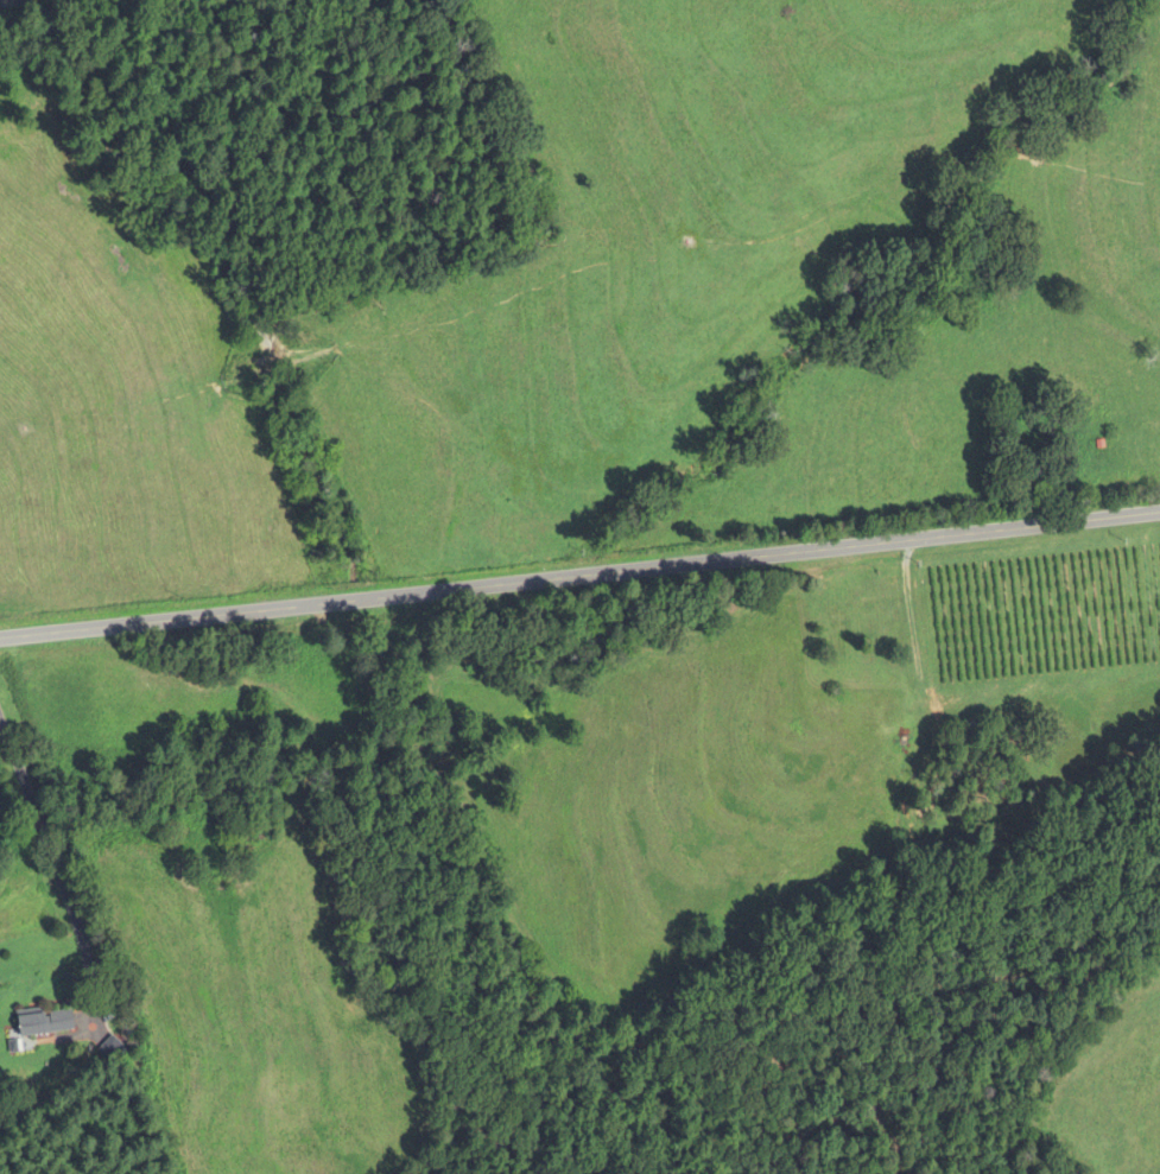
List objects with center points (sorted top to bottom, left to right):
road: (18, 5)
road: (579, 578)
road: (52, 862)
building: (44, 1024)

